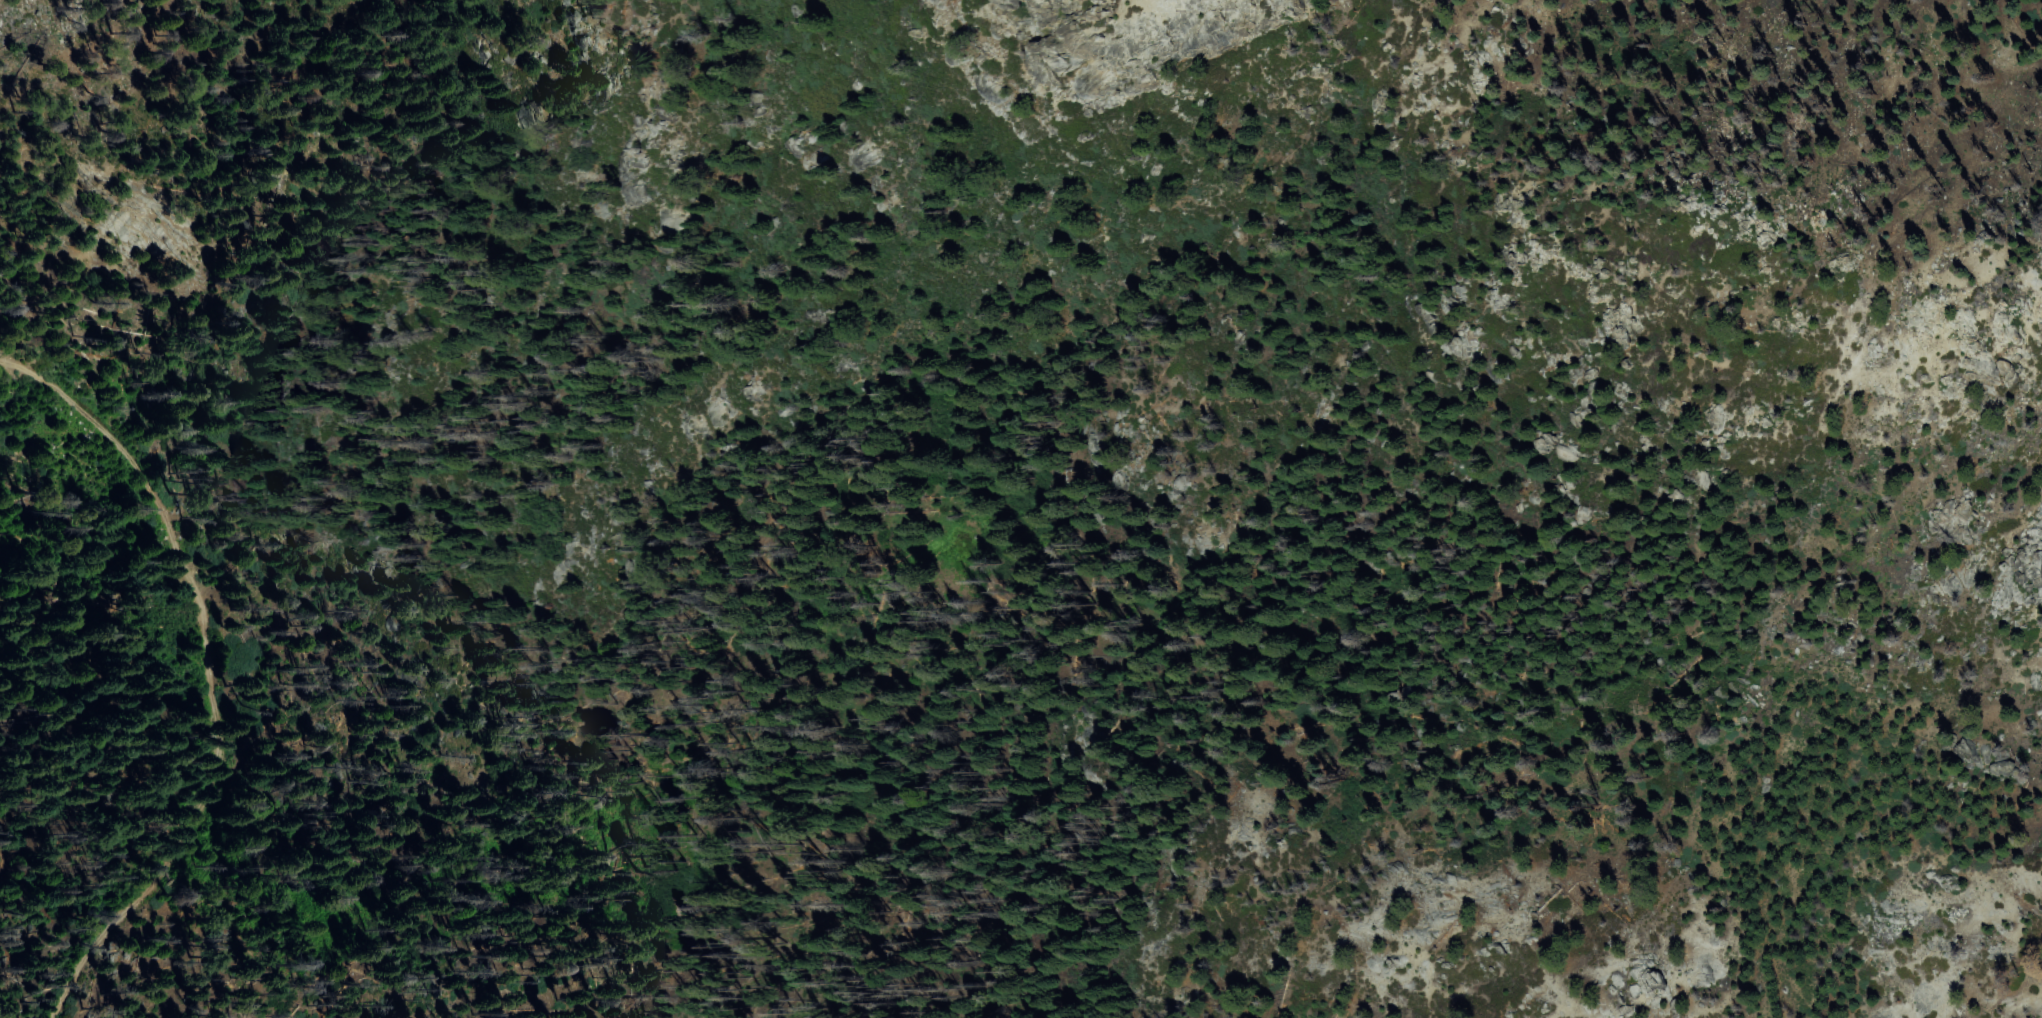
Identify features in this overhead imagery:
road: (207, 669)

